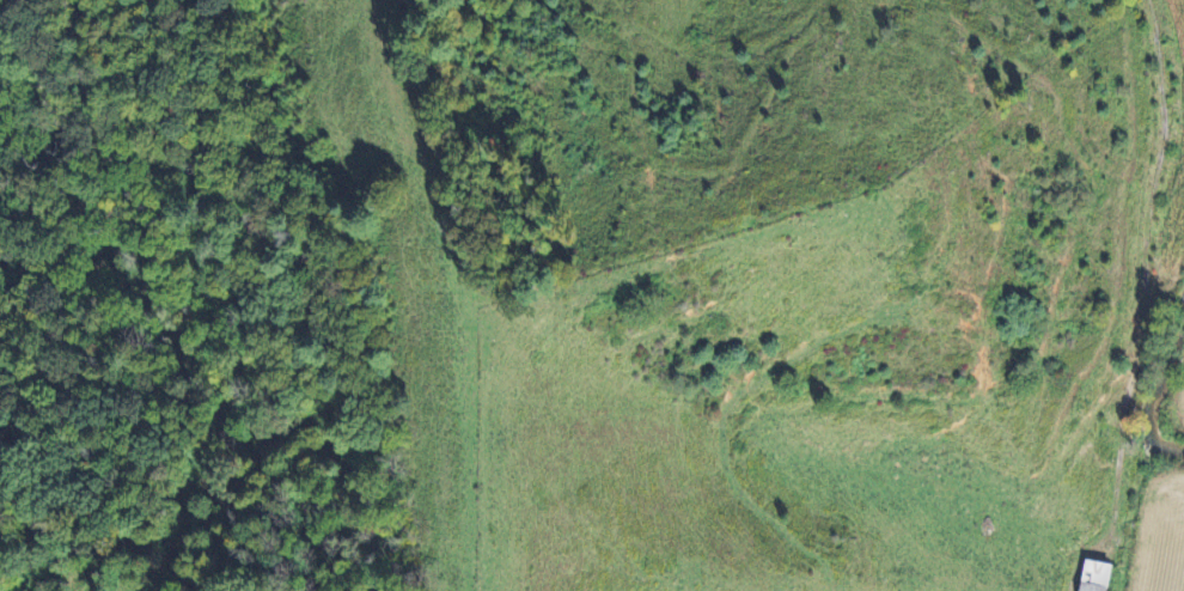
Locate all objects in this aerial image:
road: (1145, 301)
building: (1104, 575)

